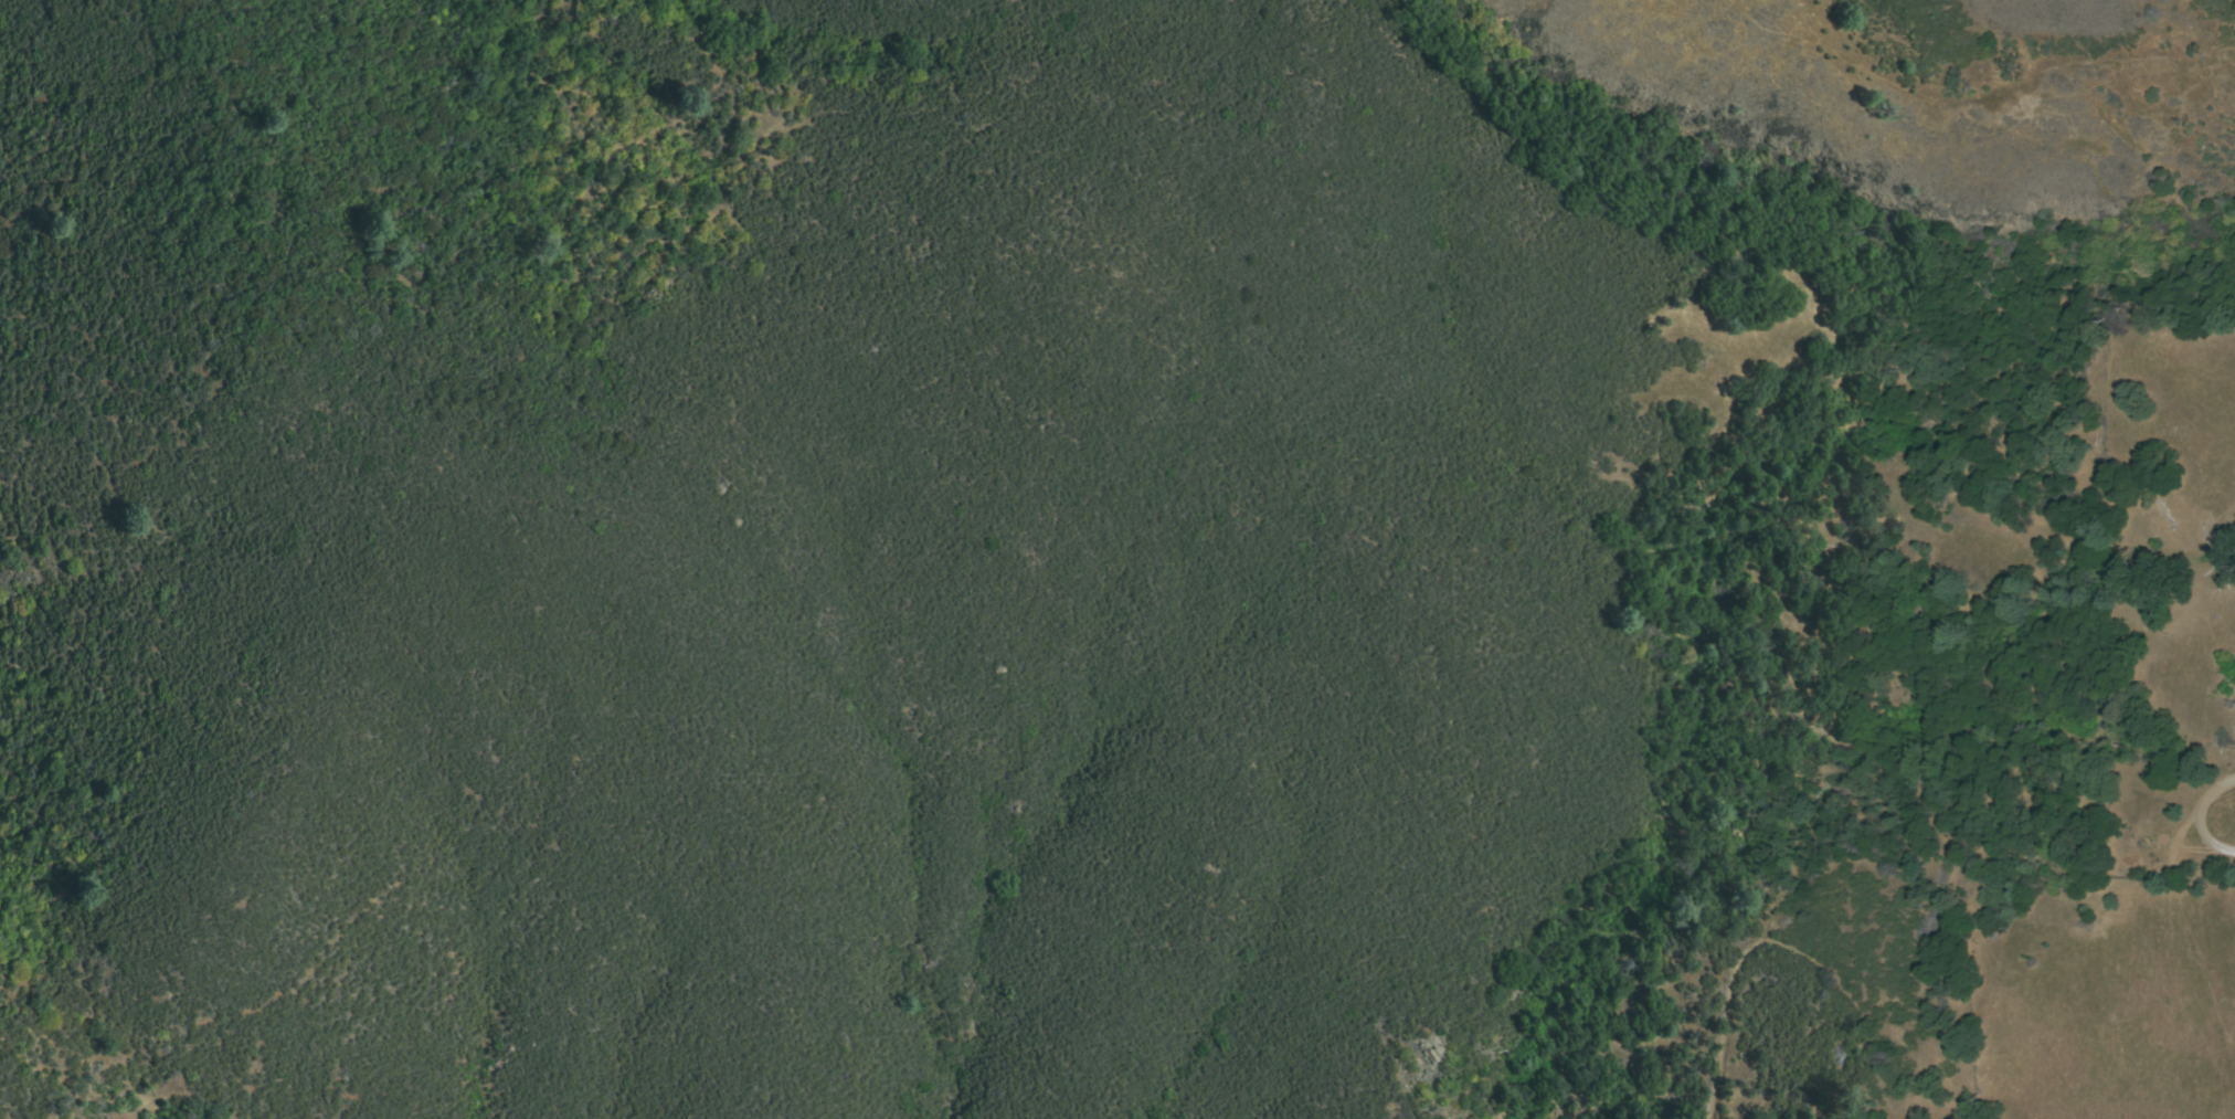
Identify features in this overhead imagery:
road: (2206, 804)
road: (1956, 873)
road: (1791, 949)

